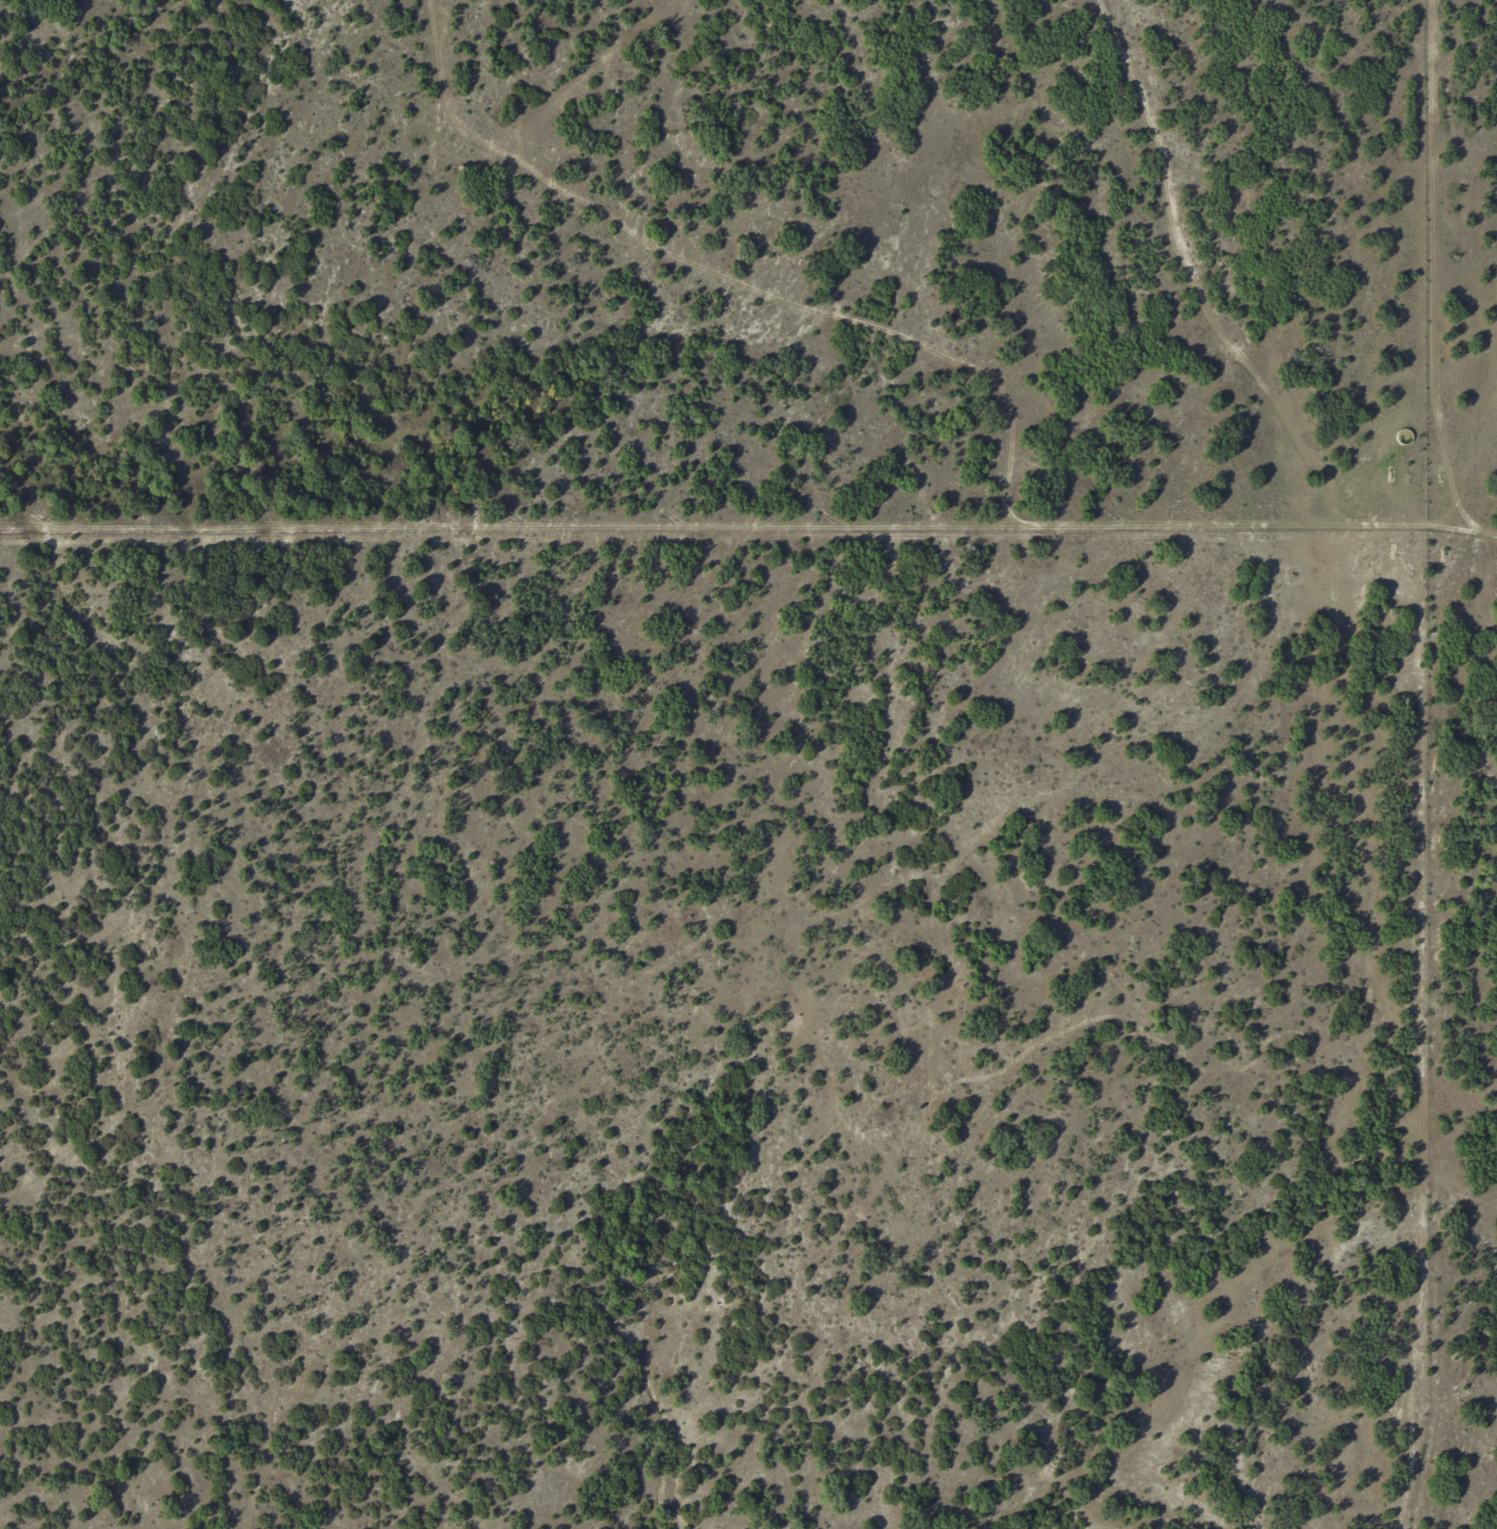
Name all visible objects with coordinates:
road: (1288, 405)
road: (1442, 533)

